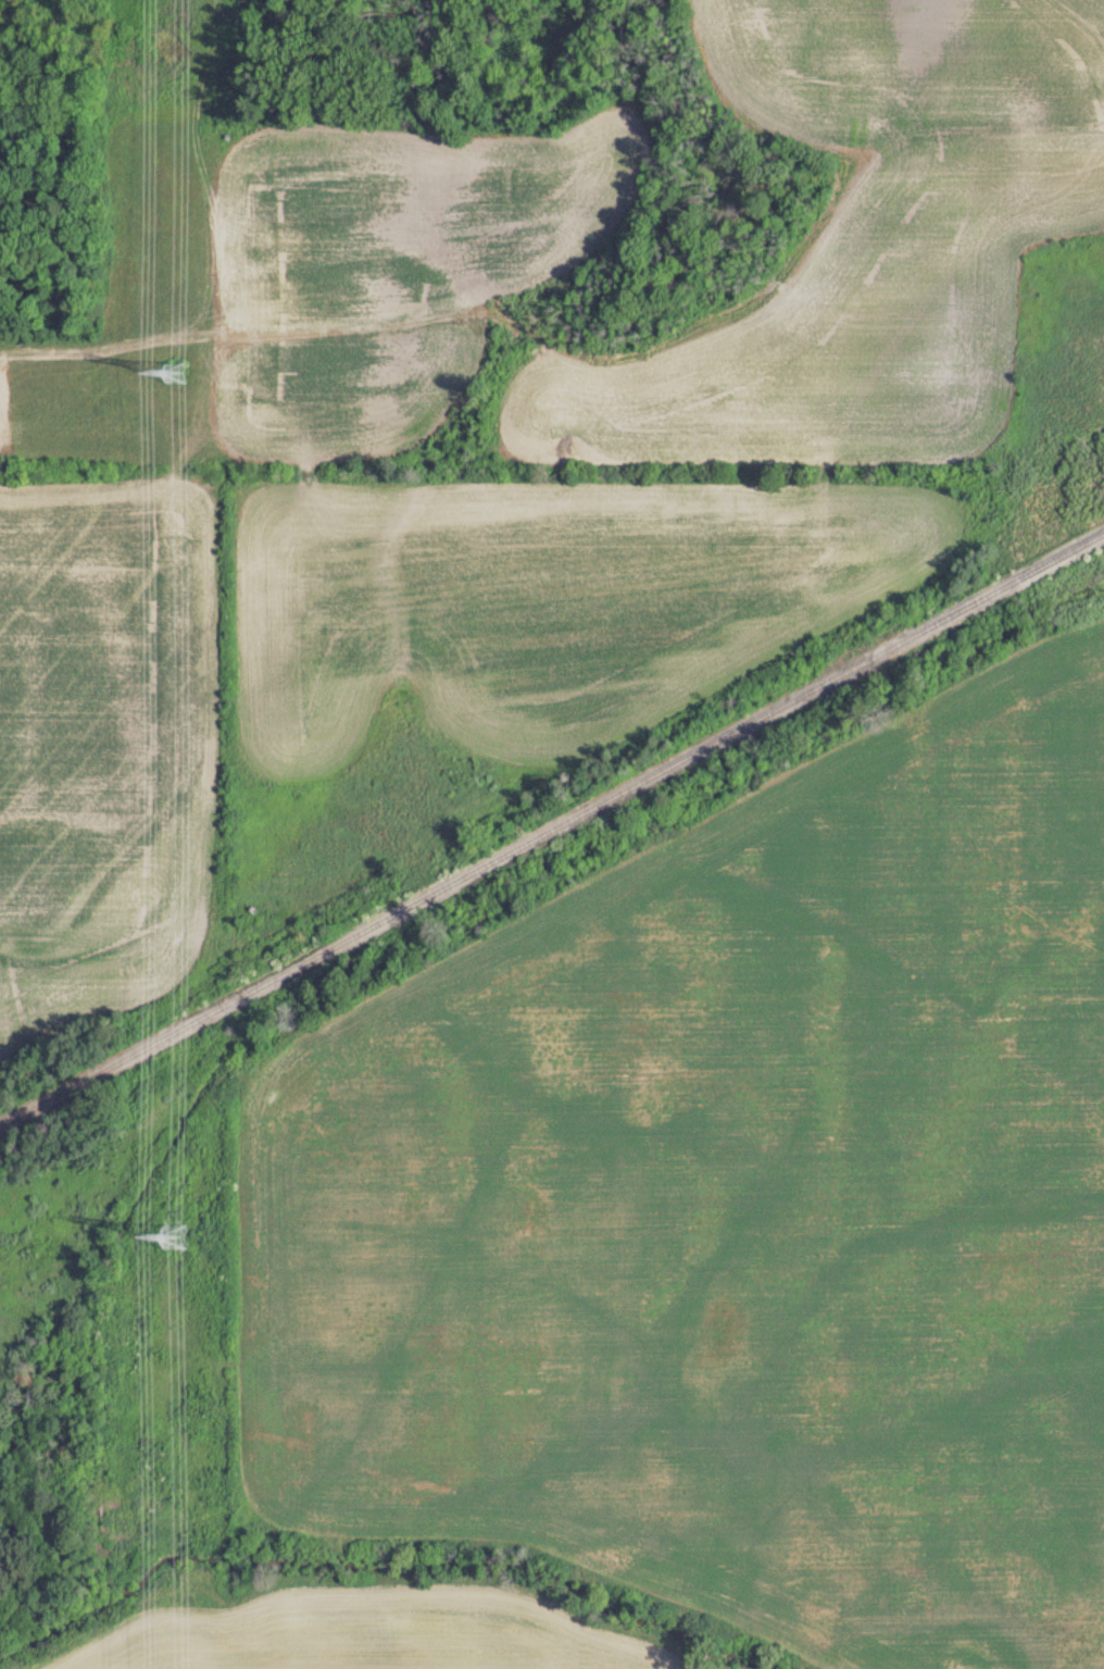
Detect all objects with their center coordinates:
power tower: (180, 371)
railway: (552, 833)
power tower: (180, 1240)

